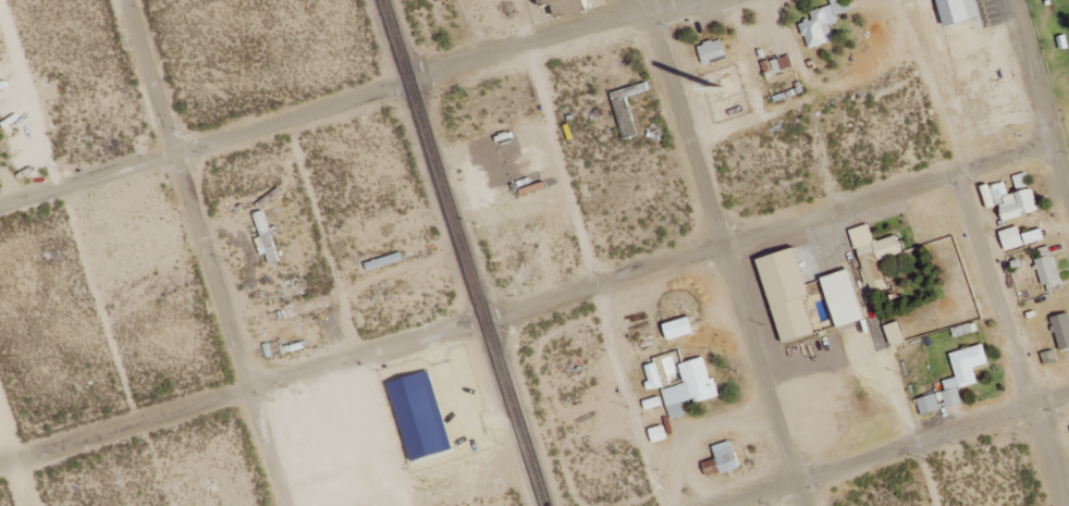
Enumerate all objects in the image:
building: (568, 7)
building: (959, 11)
building: (823, 24)
building: (713, 52)
building: (778, 66)
road: (1031, 70)
road: (809, 104)
road: (343, 106)
road: (1060, 170)
building: (1012, 198)
building: (266, 237)
building: (1021, 237)
road: (724, 250)
road: (981, 251)
road: (205, 252)
road: (463, 252)
building: (875, 252)
building: (1049, 271)
road: (594, 277)
building: (789, 294)
building: (844, 298)
road: (527, 307)
building: (306, 308)
road: (99, 309)
road: (346, 314)
building: (679, 328)
building: (1061, 330)
building: (653, 377)
building: (956, 380)
building: (687, 383)
building: (421, 416)
road: (898, 448)
road: (15, 460)
building: (723, 460)
road: (923, 474)

